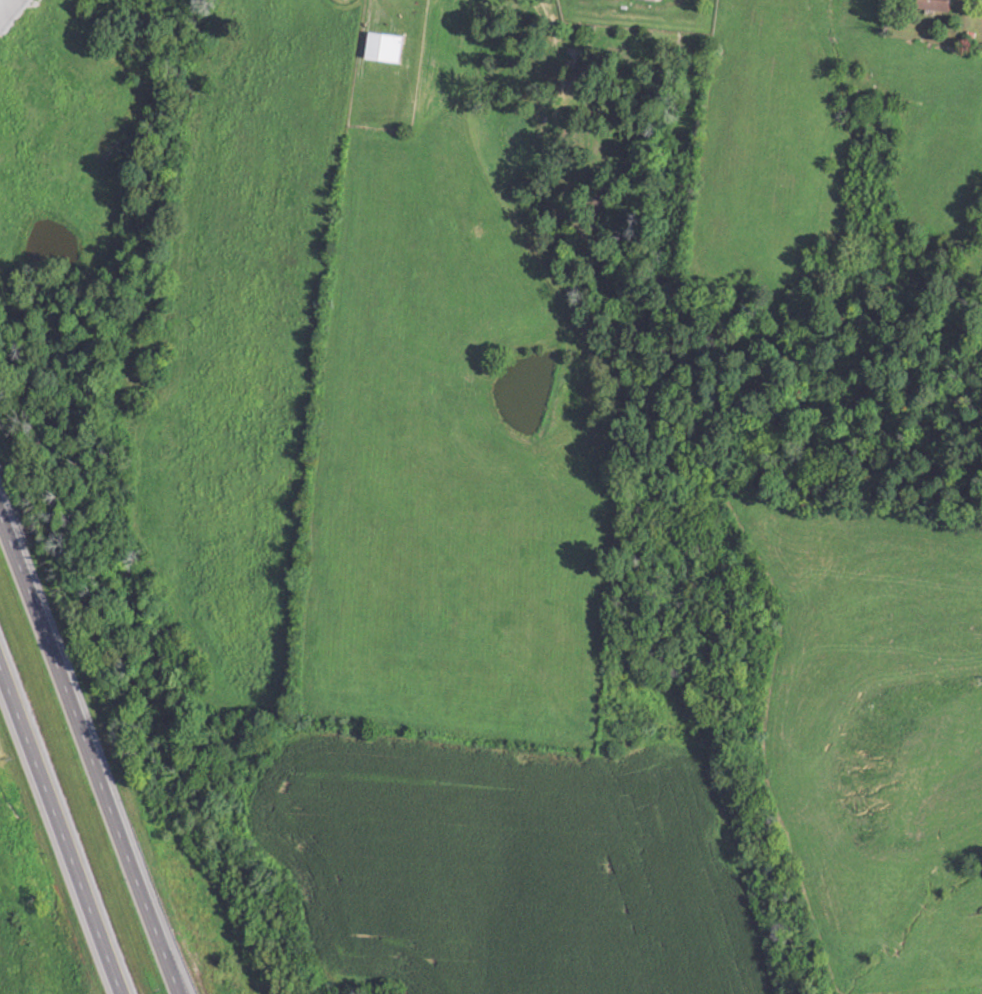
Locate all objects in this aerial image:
building: (655, 0)
building: (937, 5)
building: (386, 47)
road: (87, 755)
road: (60, 833)

